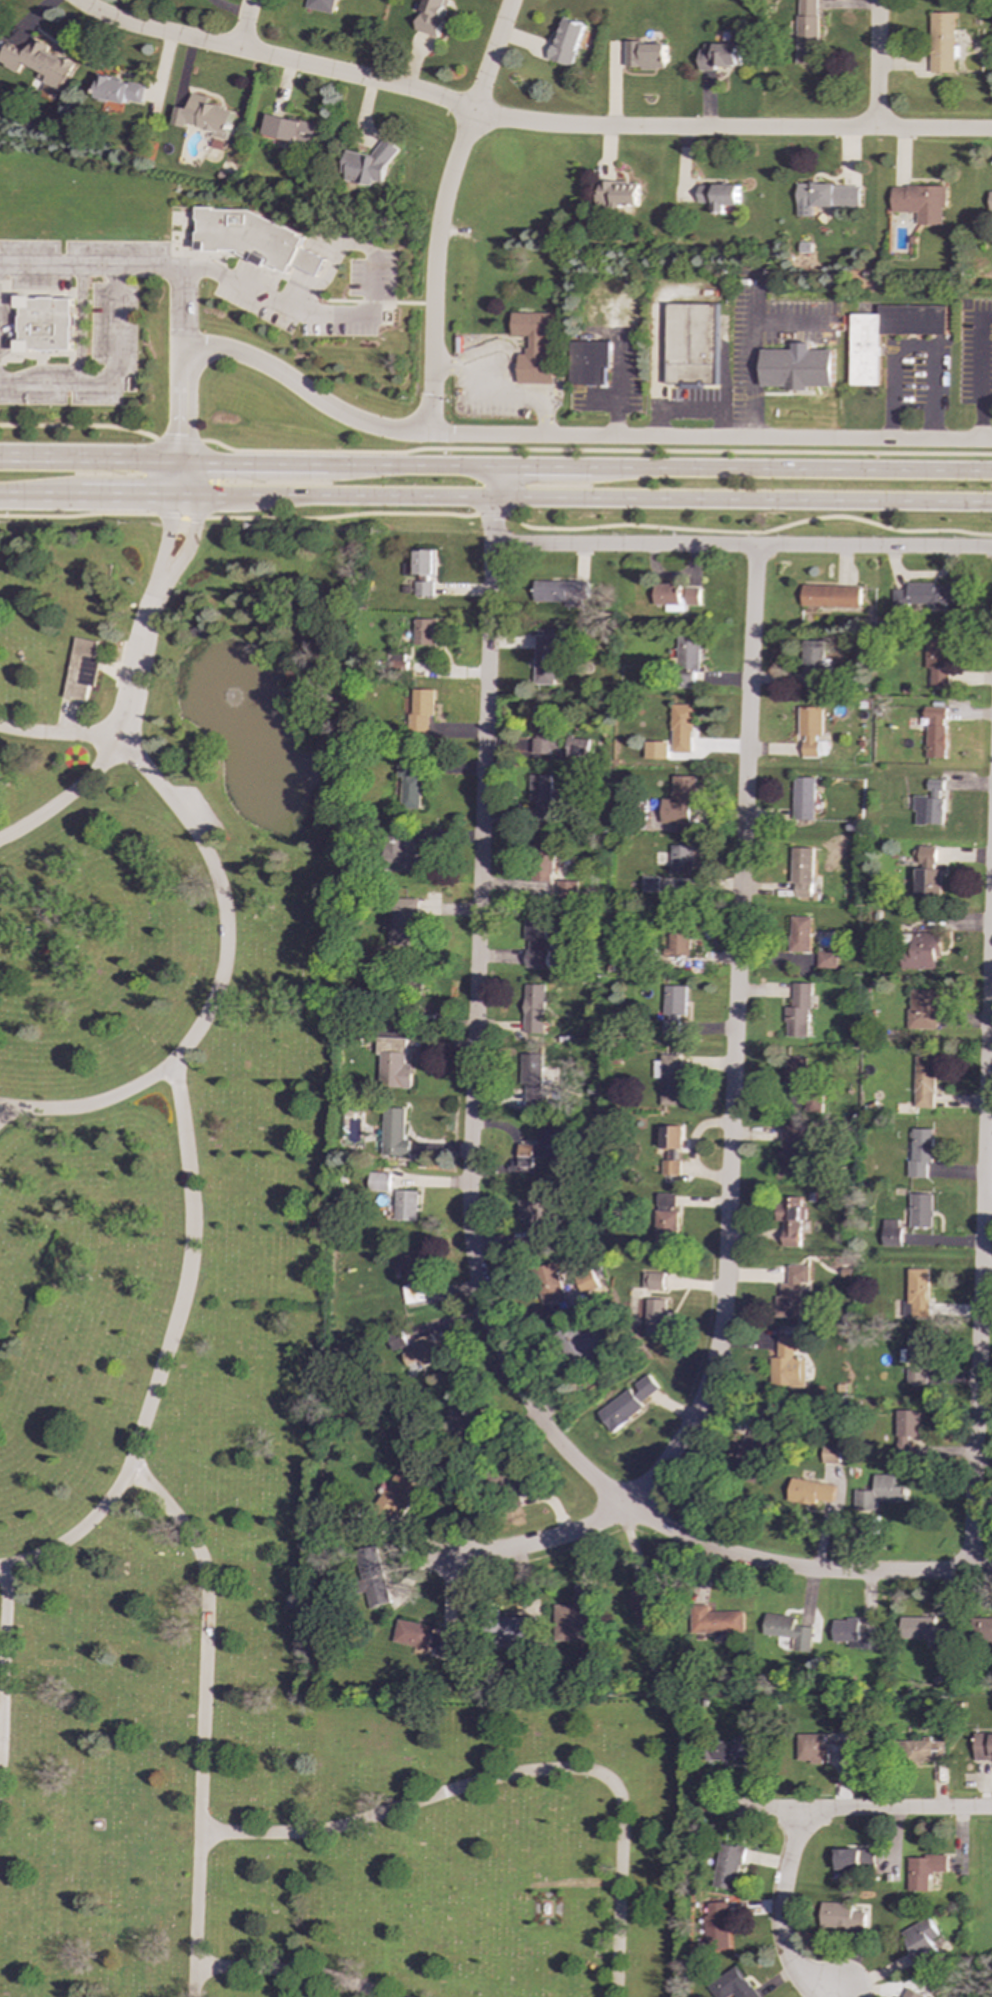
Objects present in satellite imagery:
building: (322, 5)
building: (0, 8)
building: (431, 17)
road: (245, 25)
building: (806, 31)
building: (567, 41)
building: (941, 42)
building: (645, 55)
building: (719, 56)
road: (274, 58)
building: (39, 62)
road: (876, 63)
building: (120, 90)
building: (207, 117)
building: (290, 129)
road: (731, 129)
building: (367, 166)
building: (617, 194)
building: (718, 196)
building: (825, 197)
building: (919, 202)
building: (990, 202)
road: (440, 211)
building: (249, 236)
building: (308, 261)
road: (129, 266)
road: (2, 282)
road: (300, 286)
road: (33, 291)
road: (754, 295)
road: (353, 316)
road: (16, 323)
building: (45, 324)
building: (864, 341)
road: (753, 342)
building: (691, 345)
building: (534, 346)
road: (911, 347)
road: (79, 350)
road: (36, 355)
building: (589, 362)
road: (1, 364)
building: (797, 367)
road: (979, 372)
road: (109, 376)
road: (615, 385)
road: (302, 389)
road: (491, 390)
road: (180, 393)
road: (600, 402)
road: (688, 411)
road: (656, 424)
road: (719, 424)
road: (79, 426)
road: (707, 437)
road: (167, 440)
road: (188, 441)
road: (179, 449)
road: (593, 450)
road: (89, 456)
road: (251, 460)
road: (407, 464)
road: (539, 466)
road: (790, 467)
road: (490, 482)
road: (39, 497)
road: (128, 498)
road: (584, 498)
road: (499, 512)
road: (167, 518)
road: (193, 522)
road: (747, 538)
road: (741, 543)
building: (421, 563)
building: (423, 588)
building: (560, 592)
building: (924, 595)
building: (676, 596)
building: (830, 596)
building: (424, 632)
building: (544, 659)
building: (688, 661)
building: (937, 661)
building: (814, 663)
building: (81, 668)
road: (121, 716)
building: (681, 728)
building: (543, 729)
building: (810, 729)
building: (935, 731)
building: (576, 747)
building: (655, 750)
building: (409, 783)
road: (62, 796)
building: (539, 797)
building: (803, 798)
building: (679, 800)
building: (929, 804)
building: (405, 853)
building: (925, 855)
building: (681, 857)
building: (542, 862)
building: (801, 872)
building: (928, 883)
building: (648, 884)
building: (566, 889)
building: (403, 920)
building: (800, 934)
building: (678, 939)
building: (534, 940)
building: (826, 959)
building: (532, 1008)
building: (922, 1009)
building: (673, 1010)
building: (798, 1011)
road: (473, 1027)
road: (735, 1038)
building: (393, 1063)
building: (796, 1072)
building: (531, 1078)
building: (667, 1078)
building: (923, 1082)
road: (1, 1102)
road: (96, 1102)
building: (394, 1133)
building: (670, 1137)
building: (540, 1146)
building: (792, 1148)
building: (920, 1151)
building: (670, 1164)
building: (378, 1181)
building: (404, 1206)
building: (920, 1210)
building: (666, 1218)
building: (790, 1220)
building: (532, 1221)
building: (890, 1233)
road: (981, 1233)
building: (410, 1269)
building: (653, 1281)
building: (548, 1283)
building: (790, 1292)
building: (916, 1294)
building: (656, 1316)
building: (590, 1340)
building: (420, 1354)
road: (165, 1355)
building: (914, 1359)
park: (228, 1362)
building: (786, 1364)
building: (627, 1403)
building: (464, 1418)
building: (906, 1429)
building: (754, 1442)
building: (830, 1454)
building: (810, 1491)
building: (395, 1493)
building: (876, 1496)
road: (74, 1531)
road: (543, 1542)
road: (801, 1570)
building: (371, 1576)
building: (644, 1608)
building: (576, 1612)
building: (715, 1621)
building: (514, 1627)
building: (925, 1630)
building: (984, 1630)
building: (787, 1631)
building: (852, 1634)
building: (423, 1639)
road: (4, 1641)
building: (983, 1746)
building: (820, 1749)
building: (735, 1750)
road: (505, 1779)
road: (755, 1808)
road: (895, 1808)
building: (854, 1857)
building: (728, 1867)
building: (924, 1871)
park: (980, 1904)
road: (781, 1914)
building: (844, 1915)
building: (717, 1926)
building: (921, 1941)
road: (291, 1976)
building: (733, 1985)
building: (913, 1993)

